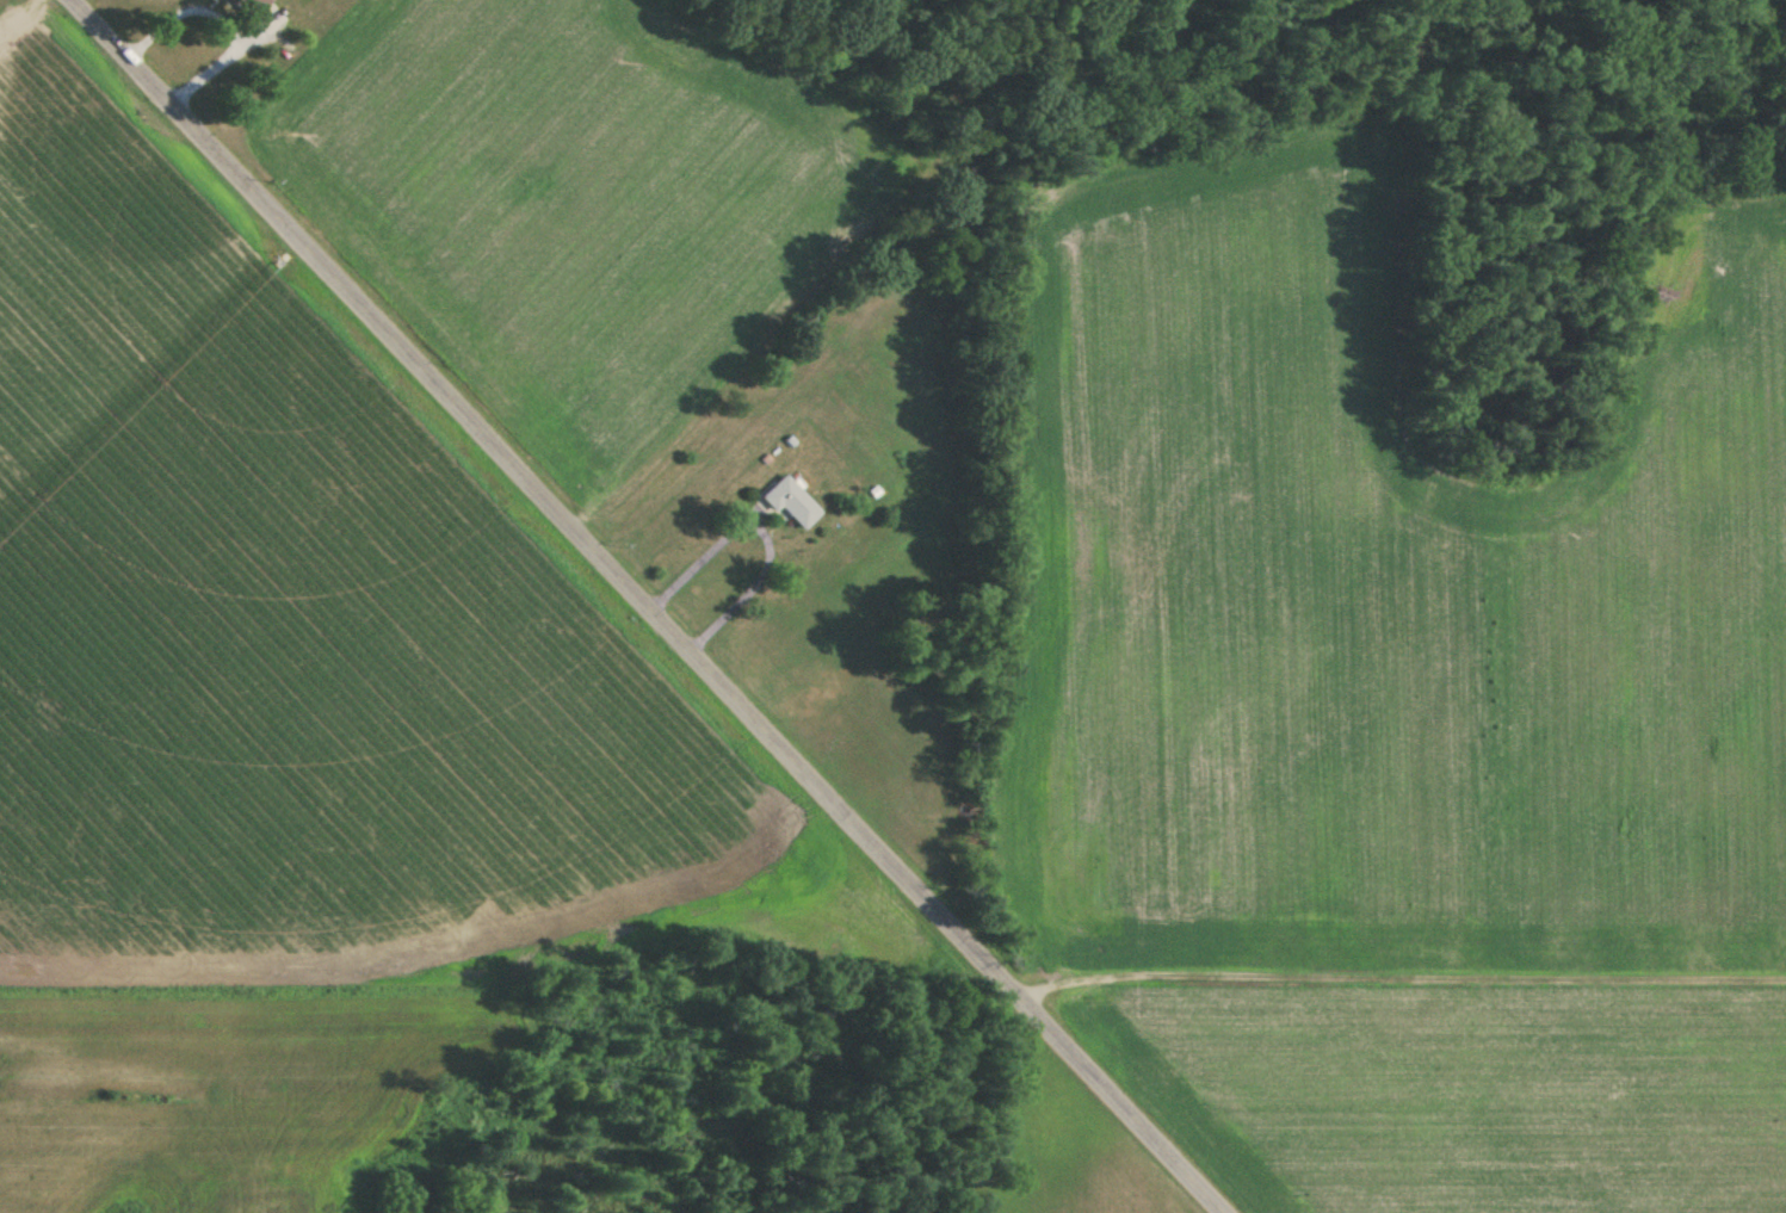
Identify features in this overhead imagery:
building: (237, 10)
building: (789, 503)
road: (650, 606)

